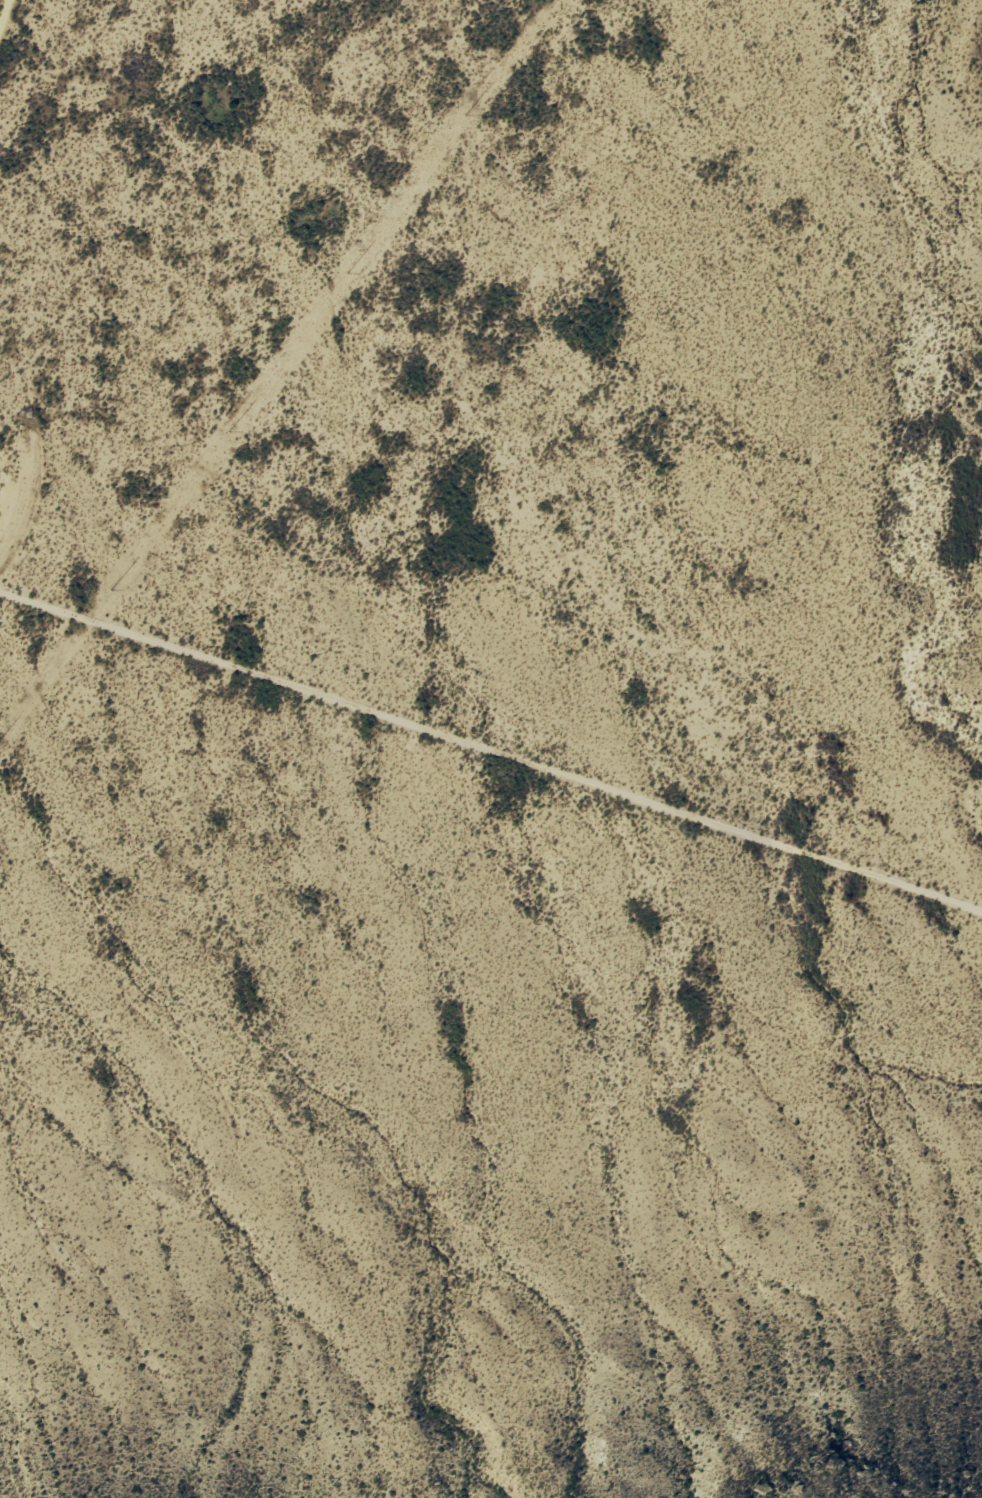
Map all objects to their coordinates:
power tower: (464, 117)
power tower: (347, 273)
power tower: (229, 433)
power tower: (111, 590)

